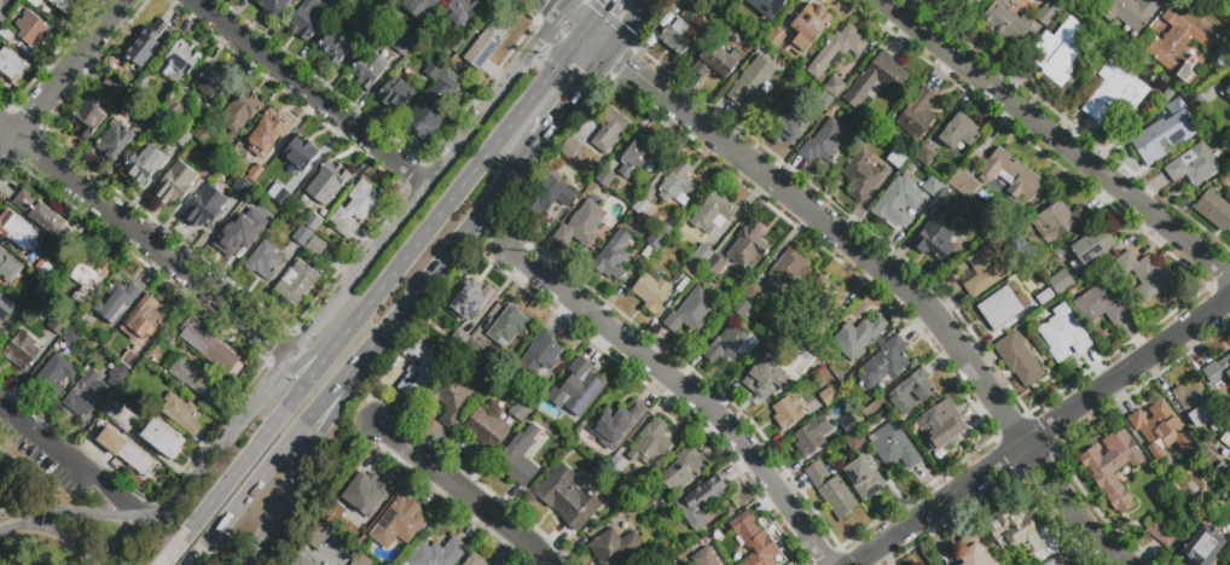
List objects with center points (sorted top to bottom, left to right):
building: (395, 0)
building: (953, 0)
building: (1092, 0)
building: (34, 2)
building: (696, 2)
building: (343, 4)
building: (970, 4)
building: (63, 5)
building: (273, 6)
road: (550, 6)
road: (564, 6)
building: (420, 7)
traffic signals: (604, 7)
building: (764, 8)
building: (464, 11)
building: (1131, 13)
building: (1048, 14)
road: (597, 17)
building: (309, 18)
building: (720, 18)
building: (1, 19)
building: (1006, 22)
road: (572, 23)
traffic signals: (574, 25)
road: (626, 25)
building: (1095, 25)
building: (808, 28)
building: (33, 29)
building: (6, 34)
building: (674, 34)
road: (557, 39)
building: (776, 39)
building: (149, 42)
building: (487, 42)
traffic signals: (557, 42)
road: (596, 42)
building: (1180, 42)
building: (402, 46)
building: (458, 47)
building: (335, 48)
road: (529, 48)
building: (837, 49)
building: (1057, 51)
building: (179, 62)
building: (713, 63)
traffic signals: (626, 65)
building: (12, 66)
building: (369, 68)
building: (434, 70)
road: (551, 71)
traffic signals: (587, 76)
road: (639, 76)
building: (449, 77)
road: (62, 80)
building: (753, 81)
building: (876, 82)
building: (211, 85)
building: (109, 87)
building: (835, 87)
building: (143, 88)
building: (1226, 91)
road: (309, 92)
building: (395, 93)
road: (573, 94)
building: (1114, 94)
building: (824, 103)
building: (240, 111)
building: (175, 112)
building: (428, 112)
building: (919, 113)
building: (152, 116)
building: (87, 117)
building: (788, 120)
building: (610, 130)
building: (585, 132)
building: (961, 132)
building: (267, 134)
building: (203, 135)
road: (465, 136)
building: (1162, 138)
building: (182, 139)
building: (114, 141)
building: (823, 141)
road: (1054, 142)
building: (300, 153)
road: (737, 153)
building: (927, 156)
road: (485, 157)
building: (897, 158)
building: (638, 159)
building: (211, 162)
building: (144, 164)
building: (1194, 164)
building: (863, 174)
building: (1010, 174)
building: (255, 175)
building: (603, 177)
road: (509, 179)
building: (175, 182)
building: (327, 182)
building: (675, 184)
building: (962, 184)
building: (933, 186)
building: (242, 187)
building: (277, 193)
building: (551, 197)
building: (899, 200)
building: (947, 203)
building: (244, 205)
building: (205, 208)
building: (355, 209)
building: (644, 209)
building: (272, 210)
building: (1213, 210)
building: (714, 212)
building: (42, 215)
building: (313, 221)
building: (1057, 221)
building: (581, 226)
building: (18, 232)
building: (234, 234)
building: (660, 234)
building: (302, 235)
building: (936, 238)
road: (144, 239)
road: (382, 244)
building: (748, 245)
building: (315, 246)
building: (1089, 246)
building: (346, 249)
building: (703, 254)
road: (406, 257)
building: (614, 257)
building: (263, 260)
building: (716, 264)
building: (988, 266)
building: (8, 267)
building: (692, 267)
building: (45, 269)
building: (787, 274)
building: (89, 276)
building: (1144, 276)
road: (430, 280)
building: (1061, 281)
building: (297, 282)
building: (651, 291)
building: (43, 292)
building: (754, 295)
building: (0, 296)
building: (828, 297)
building: (471, 299)
building: (53, 301)
building: (117, 302)
building: (1002, 302)
building: (1101, 304)
building: (742, 308)
road: (930, 308)
building: (692, 310)
building: (143, 320)
building: (59, 325)
building: (509, 326)
building: (1063, 333)
building: (777, 334)
building: (75, 336)
building: (858, 337)
building: (168, 338)
building: (458, 339)
building: (812, 343)
building: (209, 346)
building: (731, 346)
building: (21, 351)
road: (289, 353)
building: (476, 353)
building: (540, 356)
building: (1017, 359)
building: (129, 360)
road: (306, 360)
building: (886, 363)
building: (418, 368)
road: (358, 369)
road: (1130, 369)
building: (1217, 371)
building: (56, 374)
building: (764, 379)
building: (197, 380)
building: (579, 388)
road: (685, 388)
building: (94, 392)
building: (124, 392)
building: (912, 392)
building: (800, 394)
building: (453, 398)
building: (829, 401)
building: (1195, 403)
building: (114, 409)
building: (520, 410)
building: (546, 410)
building: (181, 413)
building: (788, 415)
building: (1229, 419)
building: (544, 425)
building: (615, 425)
building: (851, 425)
building: (939, 426)
building: (1218, 427)
building: (487, 429)
building: (1161, 431)
building: (812, 435)
building: (161, 437)
road: (263, 438)
building: (1225, 438)
building: (855, 441)
road: (48, 443)
building: (651, 443)
building: (894, 447)
building: (127, 452)
building: (520, 458)
parking lot: (39, 460)
building: (1203, 460)
road: (17, 466)
building: (617, 466)
road: (205, 467)
building: (1113, 467)
building: (547, 468)
building: (683, 470)
building: (1213, 471)
building: (1224, 471)
road: (260, 478)
building: (863, 478)
road: (292, 480)
park: (39, 484)
building: (831, 490)
road: (464, 491)
building: (568, 497)
building: (362, 500)
road: (123, 501)
building: (701, 501)
building: (655, 502)
road: (942, 503)
road: (1074, 507)
road: (76, 513)
building: (399, 523)
road: (52, 530)
building: (1015, 532)
building: (1161, 534)
building: (319, 536)
building: (754, 540)
building: (704, 541)
building: (1203, 544)
building: (614, 547)
building: (439, 553)
building: (976, 553)
building: (704, 558)
building: (362, 560)
building: (475, 560)
building: (302, 561)

